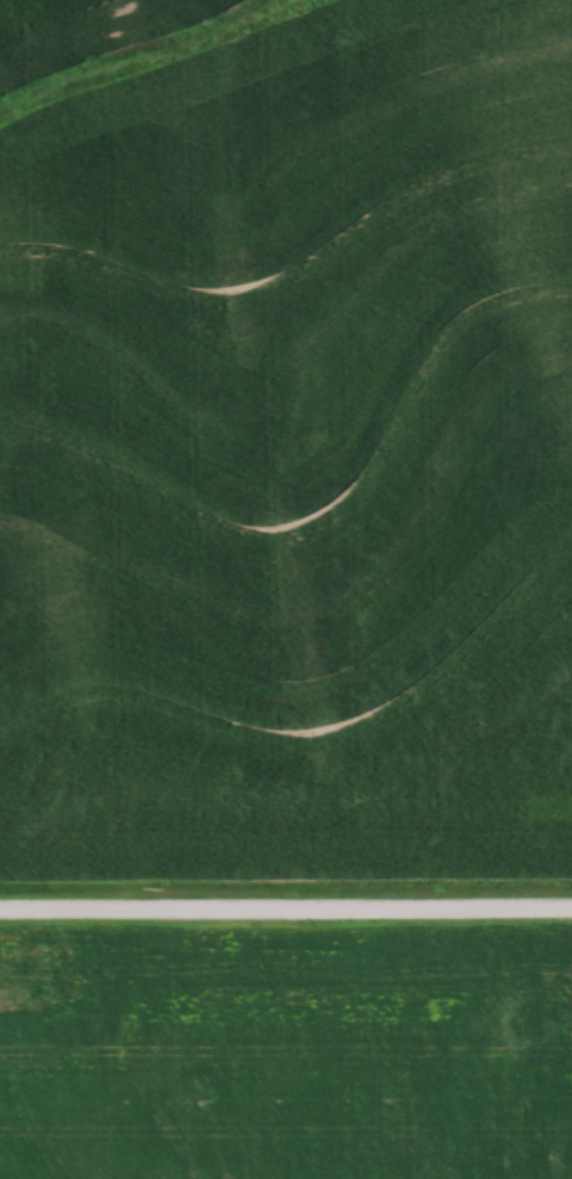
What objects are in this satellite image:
road: (286, 913)
building: (559, 1003)

